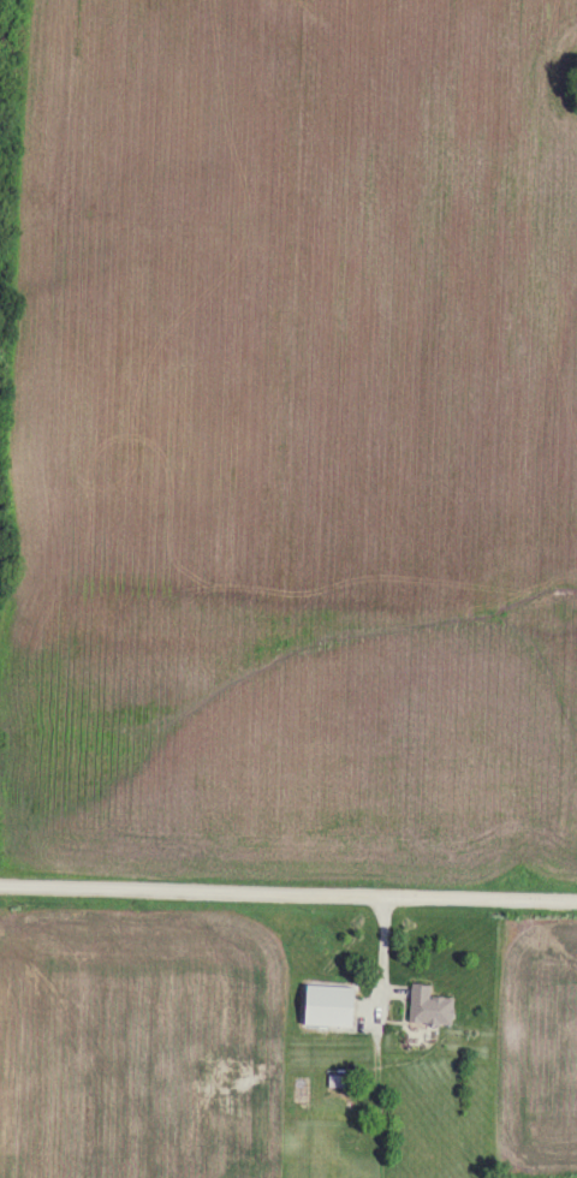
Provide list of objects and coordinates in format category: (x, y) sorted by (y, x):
road: (288, 900)
building: (322, 1005)
building: (424, 1006)

